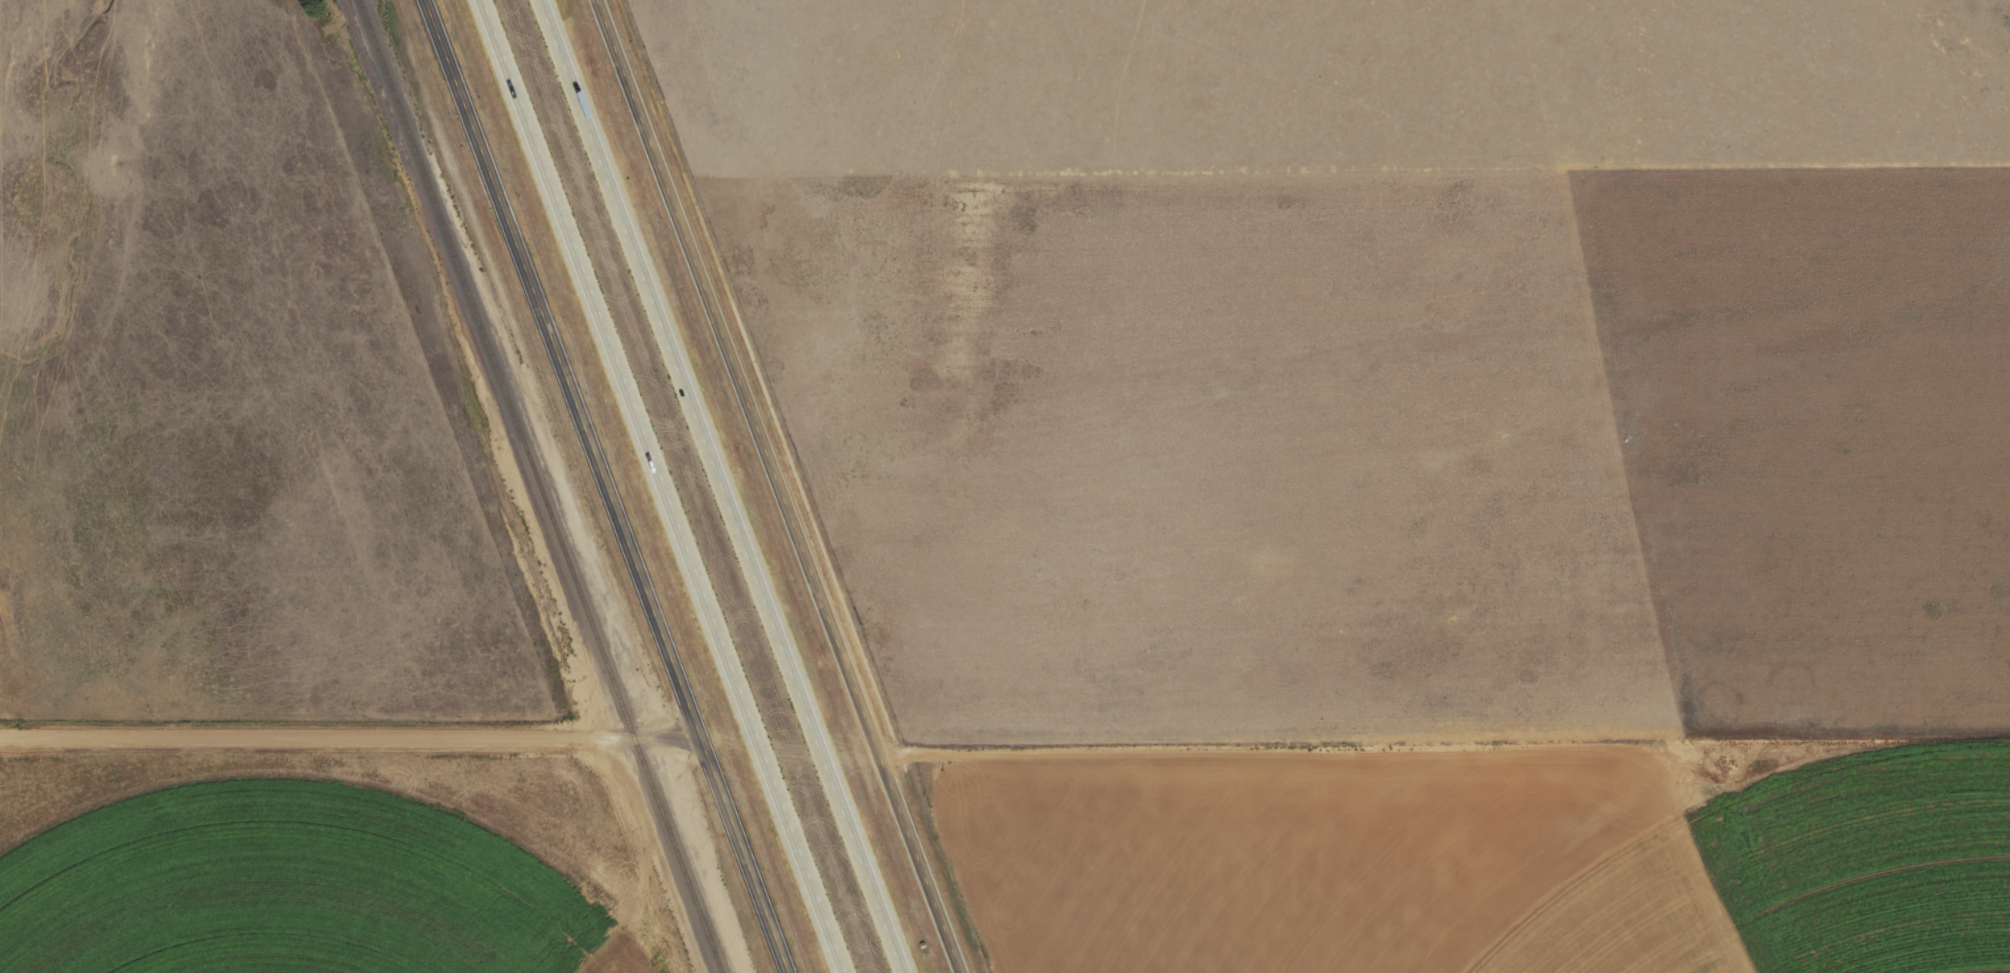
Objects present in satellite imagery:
railway: (542, 486)
road: (612, 486)
road: (663, 486)
road: (724, 486)
road: (782, 486)
road: (668, 732)
road: (1408, 734)
road: (316, 735)

